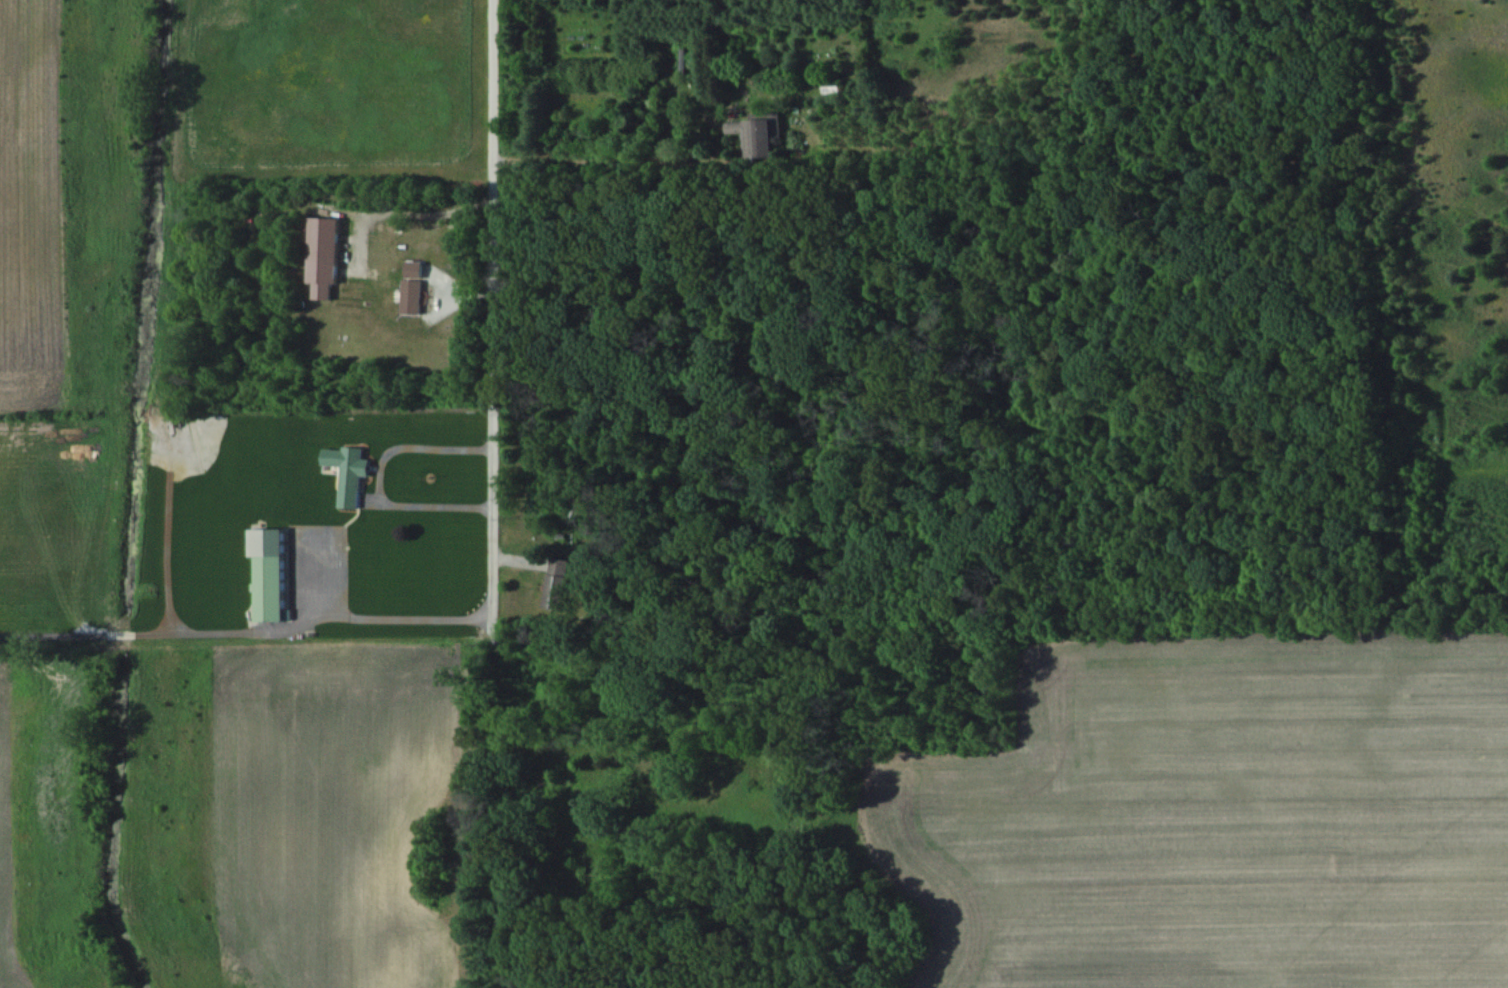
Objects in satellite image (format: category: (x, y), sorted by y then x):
building: (682, 60)
building: (753, 137)
building: (412, 287)
road: (491, 320)
building: (348, 472)
road: (378, 478)
building: (269, 572)
building: (554, 584)
road: (247, 633)

